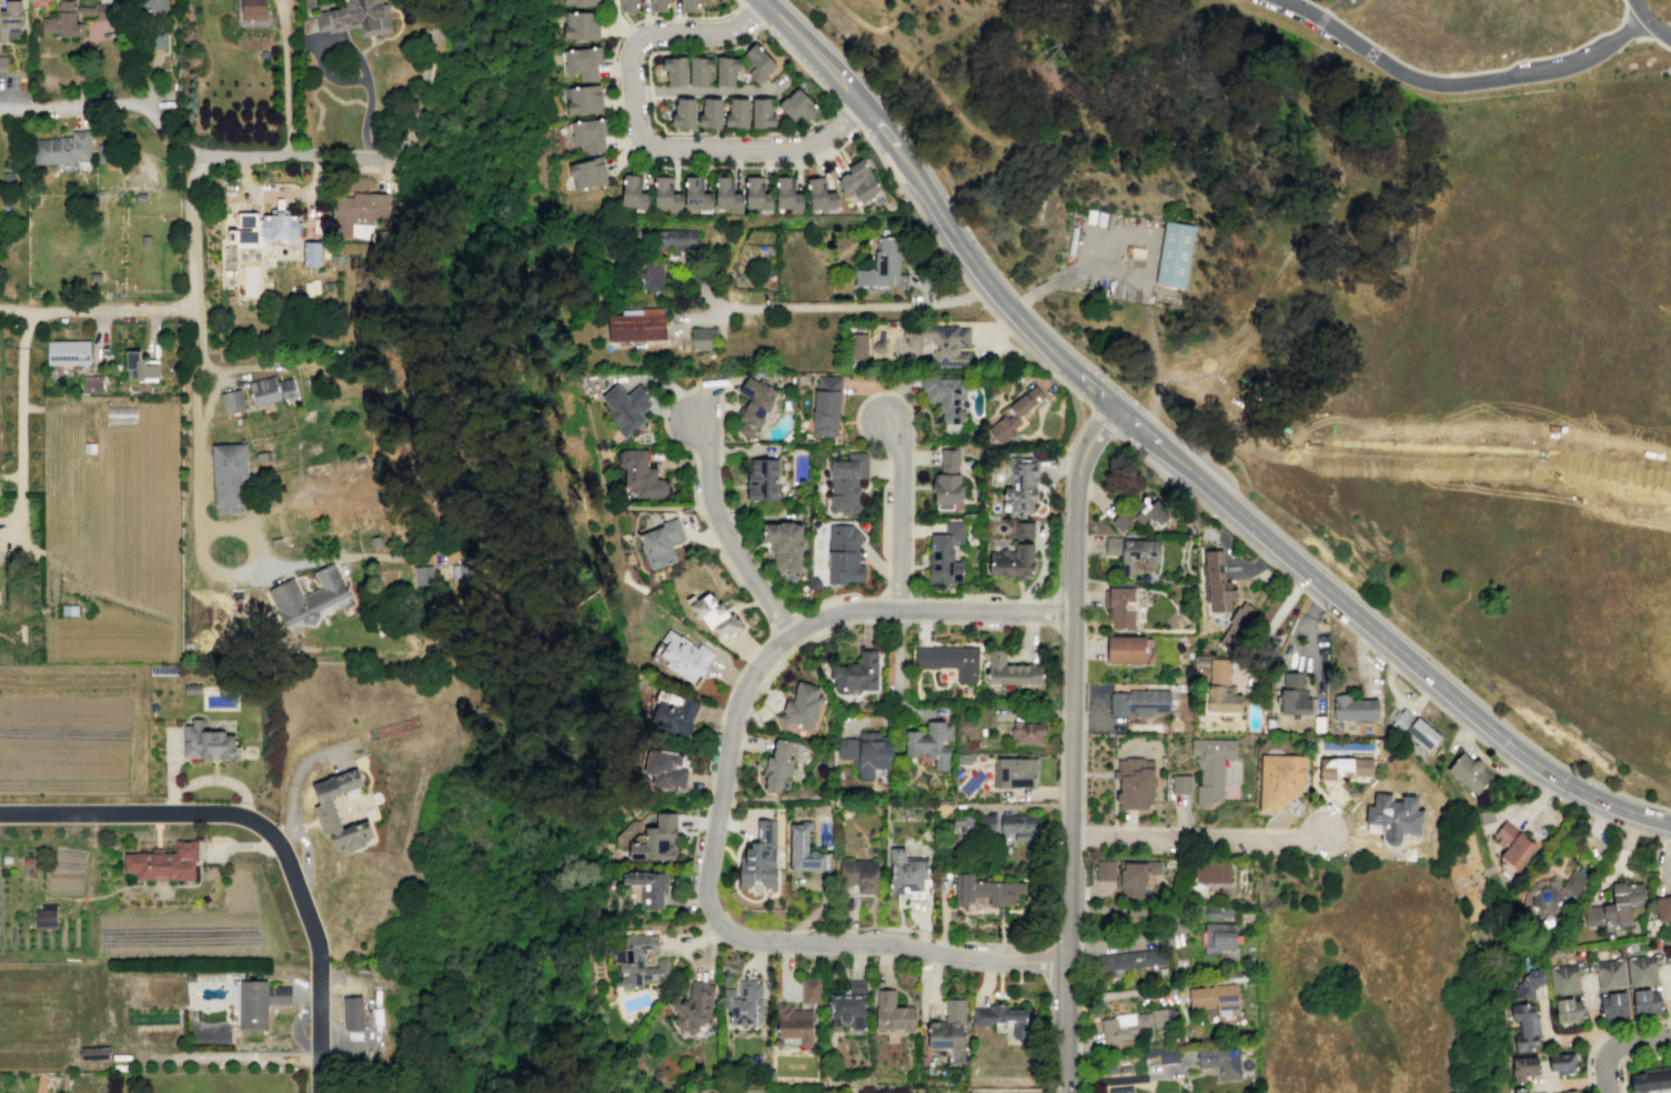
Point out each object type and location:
road: (1351, 1)
building: (582, 2)
road: (445, 3)
road: (1340, 3)
building: (152, 4)
road: (1316, 4)
building: (627, 6)
building: (657, 6)
building: (688, 6)
road: (1638, 8)
building: (252, 10)
road: (280, 10)
road: (910, 10)
road: (285, 11)
road: (749, 14)
road: (1323, 16)
road: (687, 17)
building: (72, 18)
building: (355, 18)
building: (10, 20)
road: (617, 22)
building: (581, 24)
road: (1631, 26)
road: (1655, 29)
road: (624, 30)
building: (157, 38)
road: (1643, 39)
road: (747, 40)
road: (351, 48)
road: (1111, 51)
road: (1021, 60)
building: (757, 62)
road: (1091, 62)
building: (2, 63)
building: (581, 63)
building: (674, 70)
building: (698, 70)
building: (726, 70)
road: (1481, 71)
road: (1460, 83)
road: (149, 84)
road: (285, 89)
road: (651, 91)
road: (709, 91)
road: (949, 94)
building: (584, 99)
building: (797, 106)
building: (683, 112)
building: (736, 112)
building: (709, 113)
building: (762, 113)
road: (846, 116)
road: (1088, 130)
road: (737, 132)
building: (587, 134)
road: (641, 136)
road: (1040, 138)
building: (61, 149)
building: (101, 153)
road: (1076, 153)
road: (265, 156)
road: (784, 167)
road: (913, 171)
building: (586, 173)
building: (859, 180)
road: (1225, 189)
building: (787, 191)
building: (633, 192)
building: (695, 192)
building: (726, 192)
building: (757, 192)
building: (822, 192)
road: (280, 193)
building: (665, 193)
building: (139, 197)
building: (358, 210)
road: (308, 212)
road: (1326, 213)
building: (279, 228)
building: (246, 231)
building: (144, 240)
building: (672, 240)
building: (311, 253)
building: (1175, 257)
building: (332, 259)
building: (339, 259)
building: (880, 264)
building: (652, 275)
road: (1140, 275)
road: (920, 282)
building: (314, 285)
building: (326, 285)
building: (308, 289)
road: (698, 289)
road: (973, 293)
building: (230, 300)
road: (844, 307)
road: (18, 308)
road: (73, 310)
building: (636, 324)
building: (703, 338)
building: (940, 342)
road: (1229, 342)
building: (858, 344)
building: (68, 352)
road: (1033, 357)
building: (139, 367)
road: (253, 367)
road: (1087, 378)
building: (92, 383)
road: (211, 385)
building: (286, 388)
building: (263, 390)
road: (873, 392)
road: (872, 394)
building: (945, 395)
building: (231, 401)
building: (752, 405)
building: (826, 405)
road: (31, 408)
building: (625, 408)
building: (1014, 414)
road: (695, 421)
road: (1104, 423)
road: (1136, 424)
road: (1194, 443)
building: (261, 457)
building: (948, 461)
road: (195, 465)
road: (888, 470)
road: (1187, 472)
building: (641, 473)
road: (1, 475)
road: (11, 477)
building: (228, 477)
building: (762, 480)
road: (1165, 480)
building: (846, 482)
building: (1021, 483)
building: (945, 489)
crop: (113, 495)
road: (902, 513)
building: (1138, 513)
road: (718, 520)
road: (1226, 525)
building: (954, 531)
road: (1245, 541)
building: (275, 542)
building: (661, 543)
building: (784, 544)
building: (1131, 551)
building: (1014, 553)
building: (843, 554)
road: (1264, 558)
road: (752, 559)
road: (1232, 559)
road: (320, 560)
building: (942, 561)
road: (877, 565)
building: (462, 570)
road: (887, 570)
road: (1041, 570)
road: (1281, 573)
building: (422, 575)
building: (1216, 581)
road: (1296, 585)
road: (741, 586)
road: (968, 593)
road: (1305, 593)
building: (306, 595)
road: (897, 596)
road: (1316, 603)
building: (1120, 606)
building: (69, 610)
road: (1056, 611)
building: (714, 614)
road: (895, 621)
road: (1272, 622)
road: (783, 623)
road: (1030, 623)
road: (1305, 623)
road: (1051, 625)
road: (801, 626)
road: (962, 626)
building: (1235, 626)
road: (1029, 633)
crop: (108, 640)
road: (778, 641)
road: (791, 648)
building: (1125, 648)
building: (681, 655)
road: (896, 658)
building: (949, 660)
building: (1201, 662)
building: (1010, 670)
building: (856, 672)
road: (1436, 680)
building: (191, 689)
building: (1220, 689)
building: (1292, 694)
building: (1140, 702)
road: (1098, 704)
building: (801, 706)
building: (1353, 708)
road: (919, 711)
building: (674, 716)
road: (1096, 721)
road: (872, 722)
road: (1083, 722)
building: (1415, 729)
road: (1466, 730)
crop: (74, 731)
building: (1027, 732)
building: (205, 742)
road: (738, 742)
road: (747, 742)
building: (928, 743)
road: (1071, 743)
park: (592, 746)
building: (358, 753)
building: (866, 753)
building: (963, 759)
building: (778, 764)
road: (172, 765)
building: (1210, 766)
building: (1342, 766)
building: (664, 769)
building: (1015, 772)
road: (295, 774)
building: (1467, 774)
road: (211, 780)
building: (1279, 780)
road: (733, 782)
building: (1135, 783)
building: (1180, 784)
road: (718, 804)
building: (324, 813)
building: (1486, 816)
building: (1393, 818)
road: (726, 821)
road: (697, 822)
road: (701, 822)
road: (1497, 822)
road: (744, 823)
building: (963, 823)
building: (988, 825)
building: (1019, 826)
road: (1139, 828)
road: (747, 831)
road: (1630, 831)
road: (266, 832)
road: (1653, 838)
building: (656, 840)
road: (1197, 842)
building: (1511, 845)
building: (803, 849)
road: (728, 852)
road: (304, 853)
road: (1620, 858)
building: (6, 860)
building: (758, 860)
building: (28, 861)
building: (163, 862)
road: (688, 869)
building: (1104, 870)
road: (1489, 871)
building: (905, 872)
building: (1212, 872)
building: (858, 876)
building: (1136, 876)
road: (1474, 876)
building: (648, 886)
building: (986, 890)
building: (917, 894)
road: (741, 895)
building: (1550, 895)
road: (821, 902)
building: (1613, 906)
building: (1662, 908)
building: (1217, 911)
building: (46, 919)
road: (944, 920)
crop: (180, 932)
road: (708, 932)
crop: (40, 933)
building: (1219, 939)
road: (693, 940)
road: (938, 942)
road: (1135, 943)
road: (676, 946)
building: (1667, 955)
building: (1129, 959)
building: (640, 961)
road: (1050, 965)
road: (785, 966)
building: (1640, 967)
road: (701, 970)
building: (1607, 971)
building: (1562, 976)
building: (1528, 981)
road: (930, 982)
building: (811, 991)
road: (1133, 994)
building: (1216, 1000)
building: (1643, 1000)
road: (1667, 1000)
building: (255, 1002)
building: (744, 1002)
building: (1610, 1003)
building: (848, 1006)
building: (693, 1007)
building: (1567, 1009)
building: (892, 1012)
building: (352, 1013)
building: (1003, 1017)
road: (1665, 1019)
road: (1631, 1023)
building: (1136, 1024)
building: (1522, 1025)
building: (792, 1026)
road: (294, 1029)
building: (949, 1030)
road: (1048, 1033)
road: (1573, 1035)
road: (1597, 1037)
road: (1600, 1041)
road: (1617, 1044)
building: (93, 1053)
building: (1160, 1055)
road: (228, 1057)
road: (1586, 1060)
road: (1631, 1060)
building: (1220, 1062)
building: (1560, 1062)
building: (1521, 1067)
building: (1111, 1070)
building: (1124, 1070)
road: (1128, 1077)
building: (1650, 1079)
road: (1568, 1082)
road: (1587, 1082)
building: (1119, 1090)
building: (1518, 1090)
building: (1567, 1091)
road: (1587, 1091)

